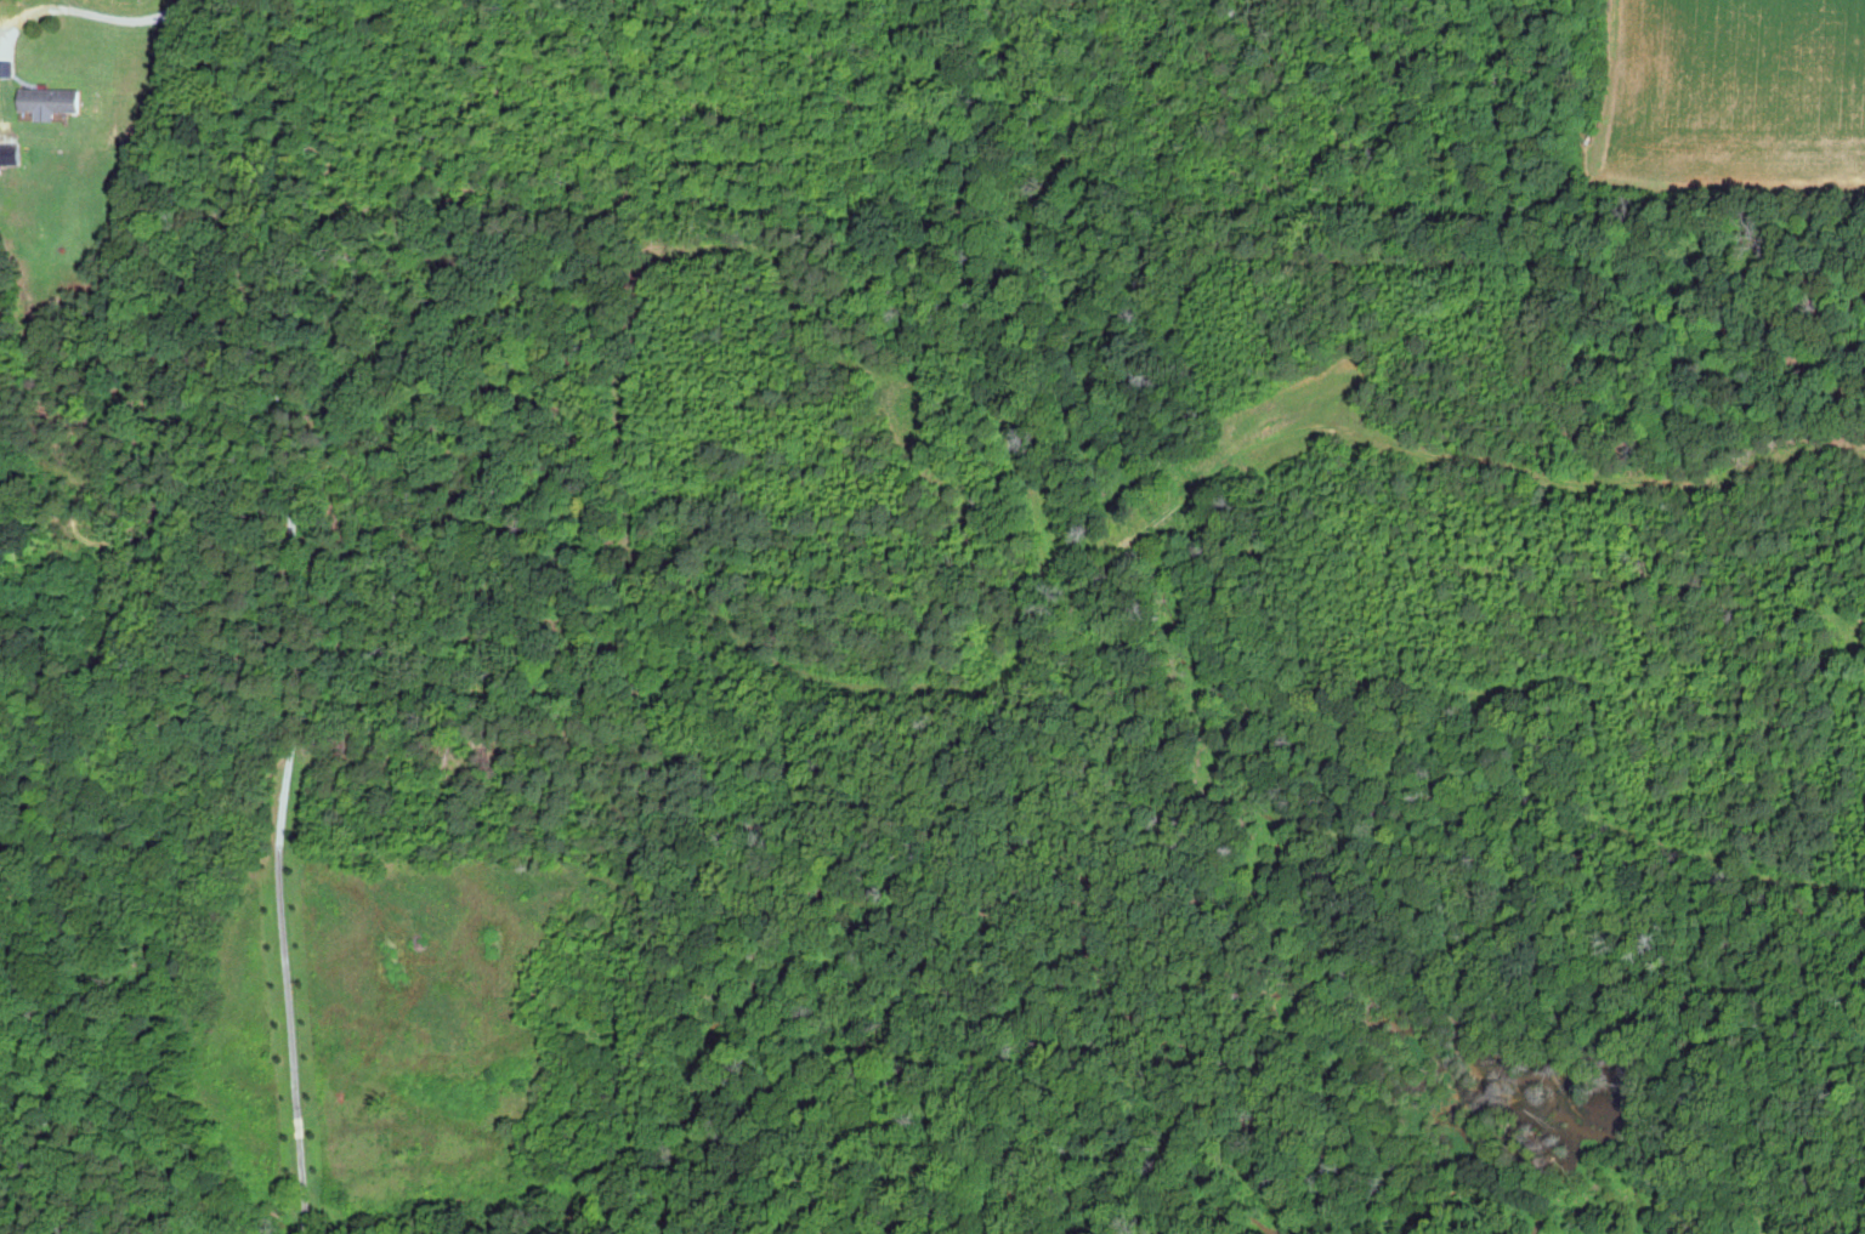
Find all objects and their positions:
road: (121, 27)
building: (55, 102)
building: (7, 153)
road: (296, 618)

